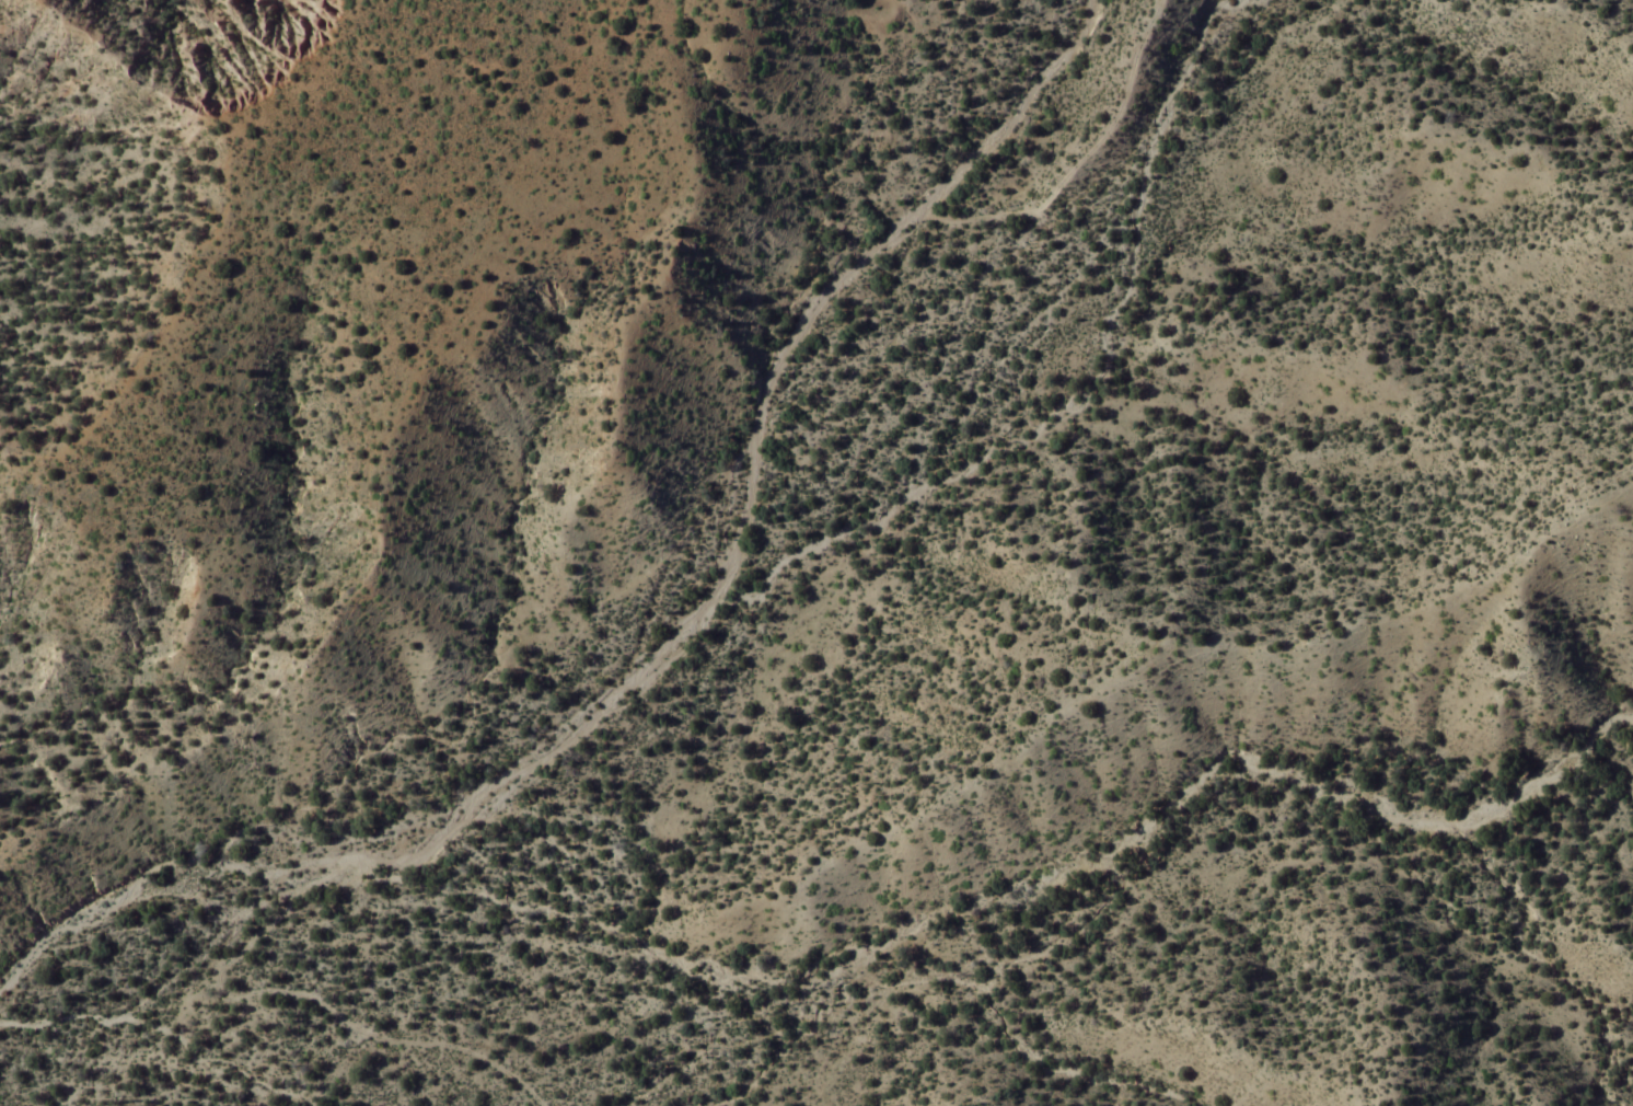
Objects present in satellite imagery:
road: (1588, 1094)

